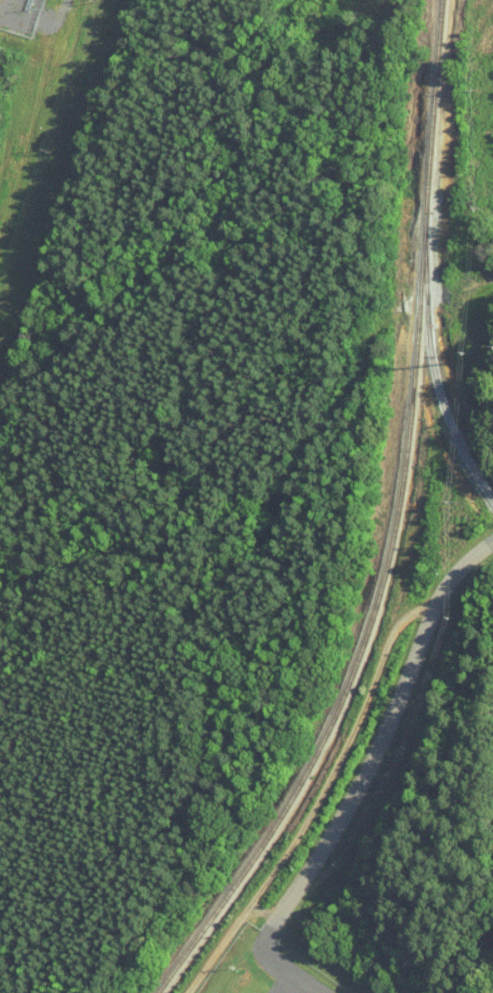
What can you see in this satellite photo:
railway: (394, 527)
road: (362, 775)

